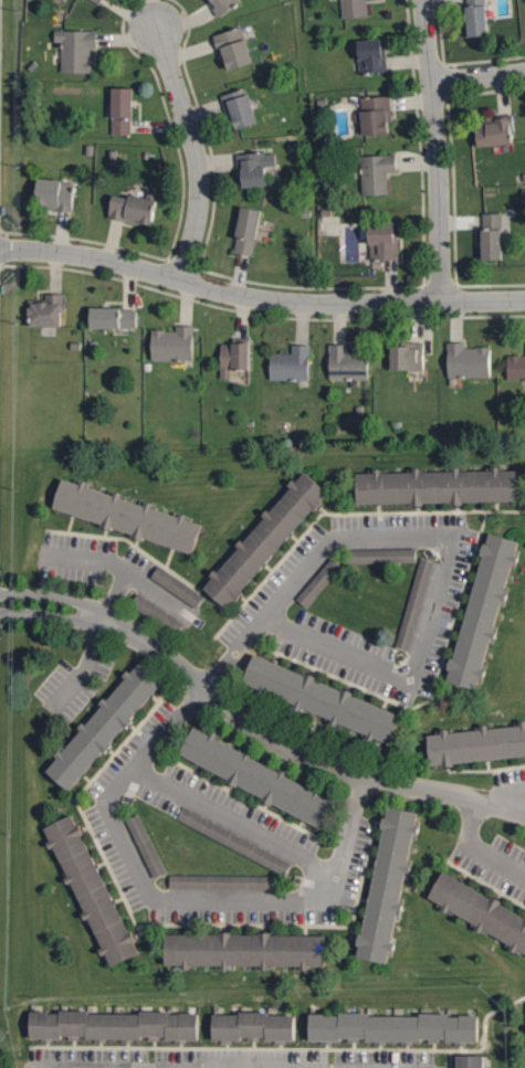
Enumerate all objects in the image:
building: (97, 0)
building: (225, 6)
building: (356, 9)
building: (481, 19)
building: (235, 49)
building: (78, 50)
building: (375, 56)
road: (477, 78)
building: (242, 109)
building: (125, 110)
building: (379, 116)
building: (498, 134)
road: (435, 150)
road: (196, 152)
building: (256, 170)
building: (379, 173)
building: (59, 194)
building: (136, 210)
building: (250, 228)
road: (259, 299)
building: (43, 314)
building: (171, 341)
building: (435, 490)
building: (126, 518)
road: (336, 538)
building: (264, 542)
road: (125, 572)
road: (117, 596)
building: (482, 613)
road: (234, 655)
road: (92, 656)
building: (321, 700)
building: (105, 722)
road: (251, 728)
building: (476, 744)
building: (255, 776)
road: (517, 803)
road: (234, 823)
road: (476, 850)
building: (387, 885)
building: (91, 890)
road: (174, 901)
building: (244, 951)
building: (113, 1026)
building: (253, 1028)
building: (392, 1028)

